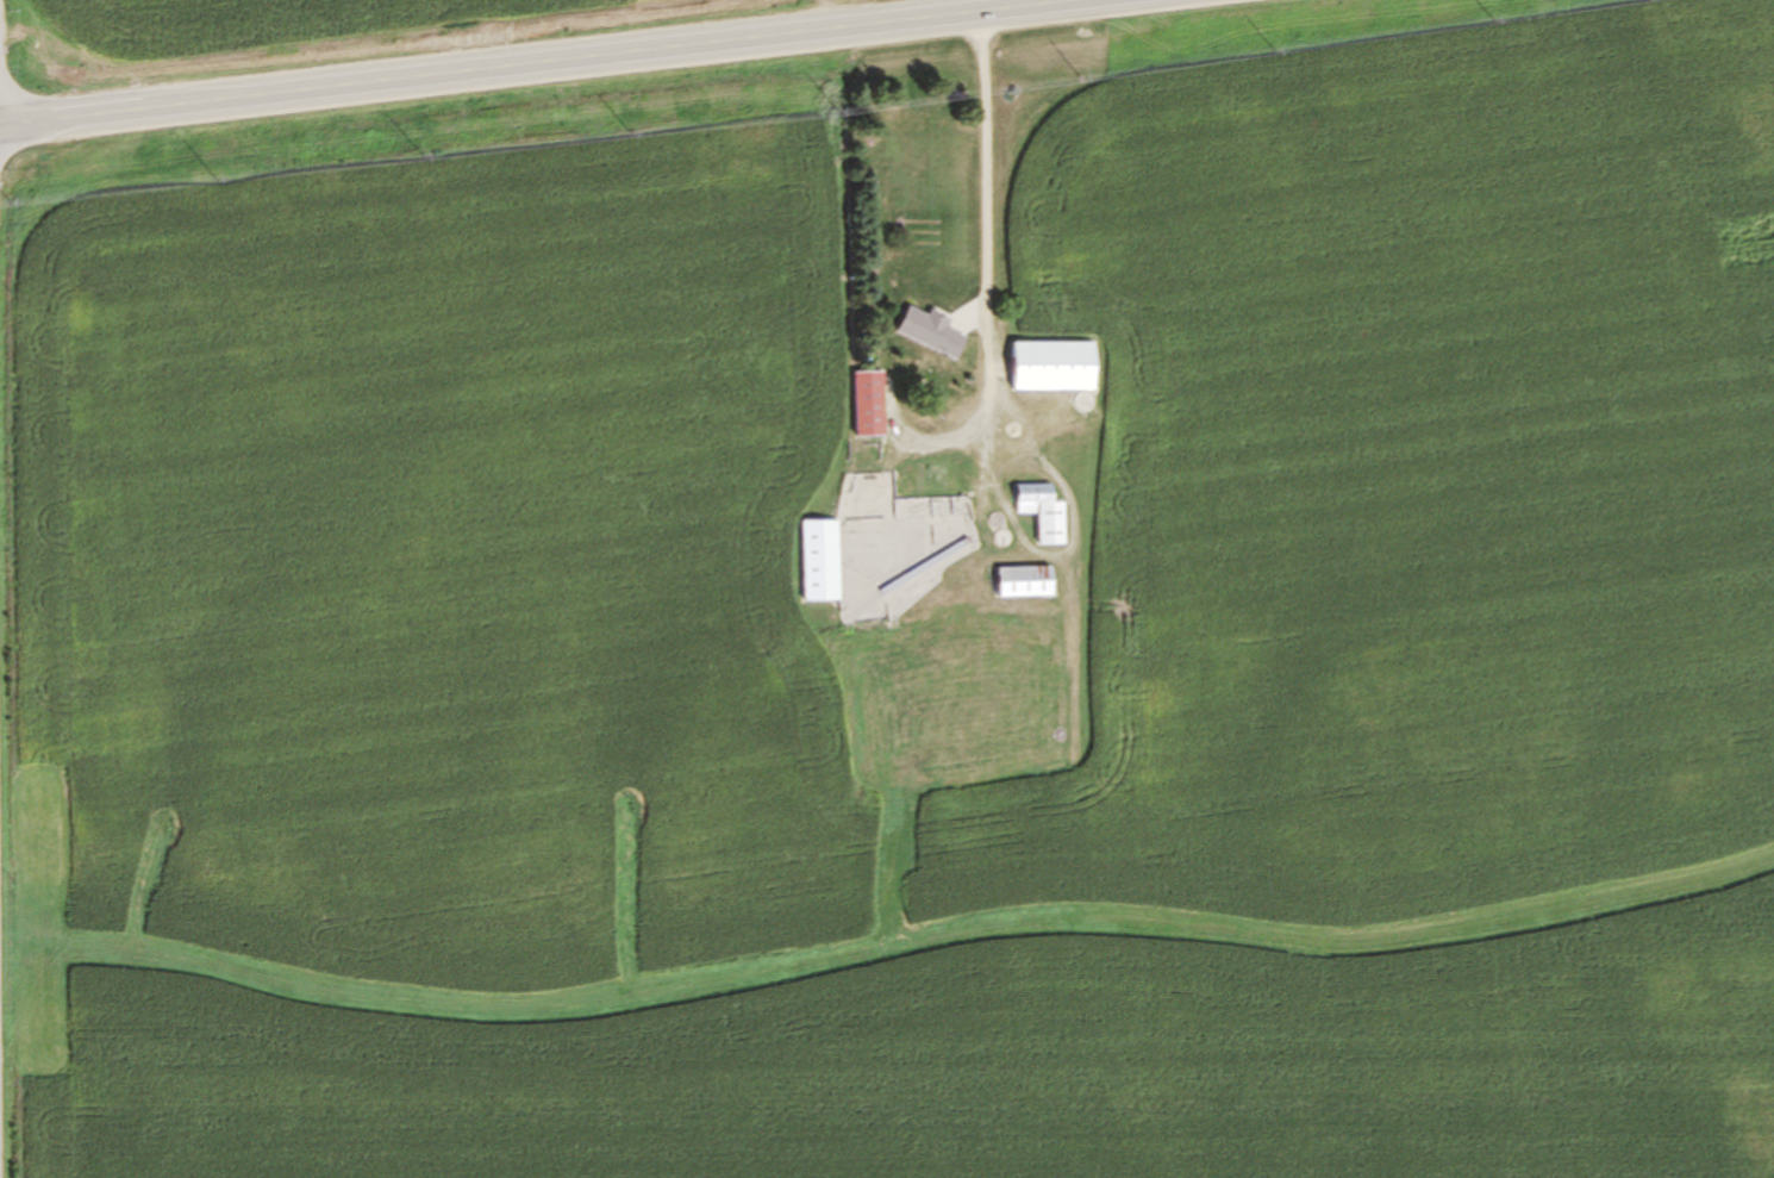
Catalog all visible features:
road: (530, 62)
road: (987, 151)
building: (924, 332)
building: (1045, 364)
building: (861, 403)
building: (1035, 511)
building: (967, 518)
building: (985, 540)
building: (811, 560)
building: (1016, 580)

